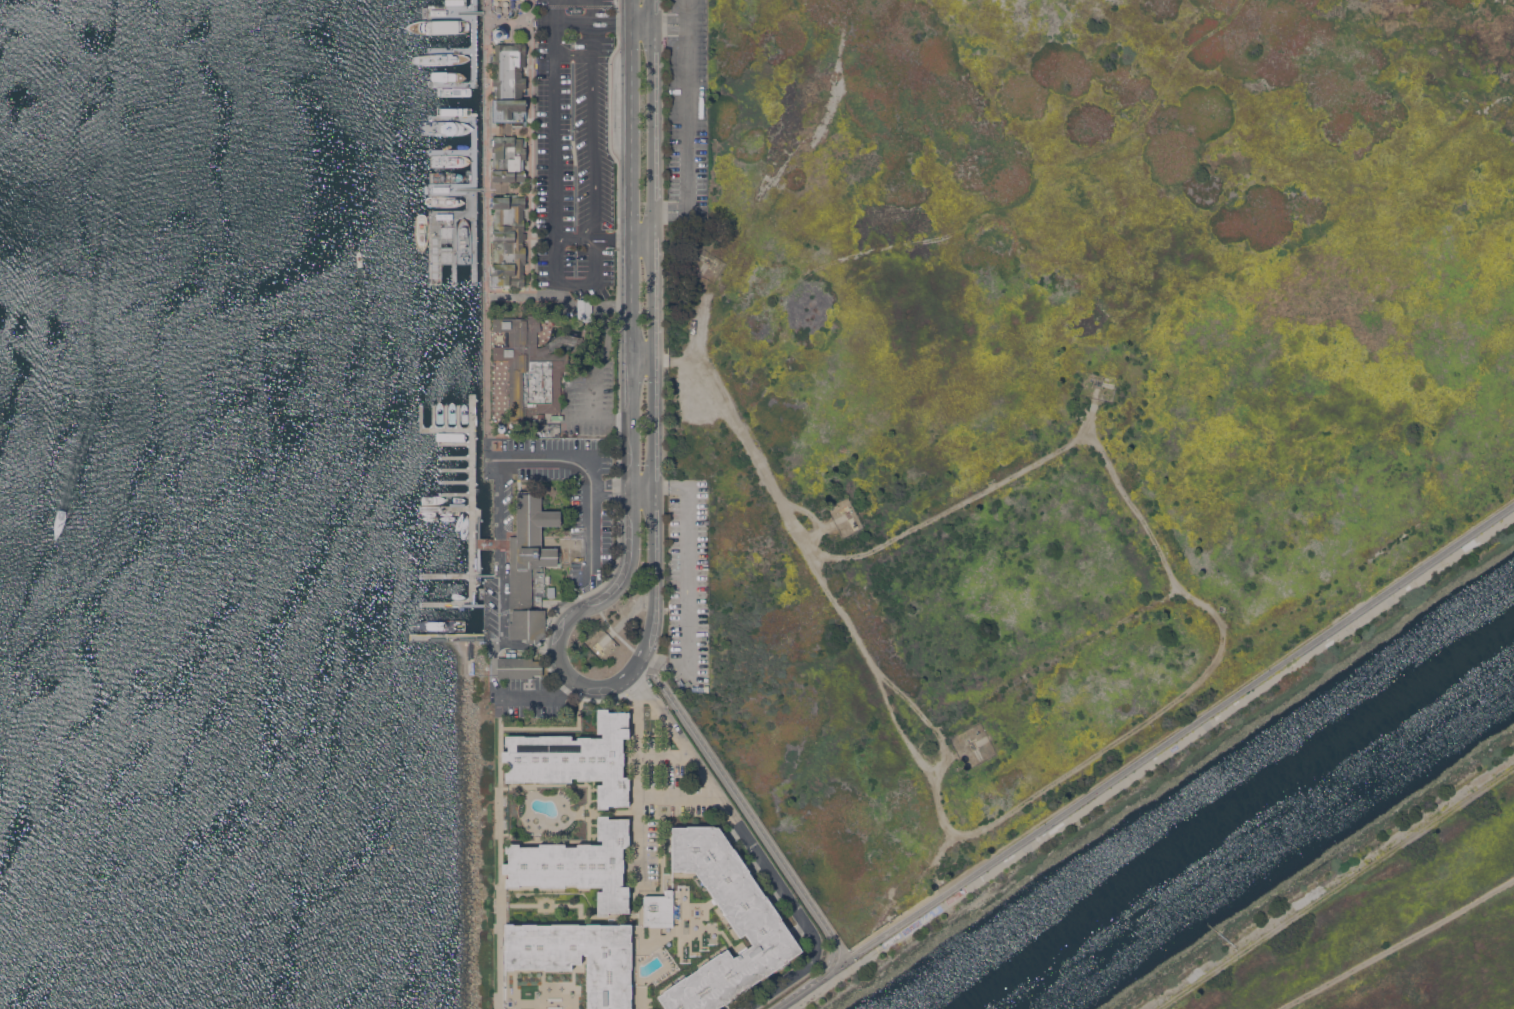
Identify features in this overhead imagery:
pier: (474, 2)
road: (531, 4)
pier: (451, 11)
road: (591, 11)
road: (631, 11)
road: (653, 11)
road: (686, 11)
road: (470, 12)
road: (535, 18)
road: (572, 21)
road: (611, 22)
road: (642, 22)
road: (669, 23)
road: (492, 33)
building: (497, 33)
road: (591, 38)
road: (507, 42)
pier: (450, 50)
road: (573, 54)
pier: (473, 74)
building: (509, 82)
road: (631, 86)
parking lot: (687, 107)
road: (652, 116)
pier: (473, 127)
road: (686, 130)
road: (530, 133)
road: (555, 140)
road: (592, 147)
parking lot: (574, 148)
pier: (450, 152)
building: (507, 158)
road: (529, 160)
road: (491, 169)
road: (470, 189)
road: (631, 195)
road: (521, 196)
road: (618, 207)
road: (988, 211)
road: (486, 224)
road: (652, 224)
pier: (446, 229)
road: (577, 239)
building: (508, 240)
road: (614, 240)
road: (642, 240)
pier: (473, 251)
road: (597, 260)
road: (631, 273)
road: (577, 281)
road: (598, 286)
road: (511, 293)
road: (558, 293)
road: (612, 307)
road: (565, 326)
building: (537, 361)
road: (598, 362)
parking lot: (587, 386)
road: (1091, 412)
pier: (456, 416)
pier: (432, 417)
pier: (444, 417)
road: (597, 418)
pier: (433, 430)
pier: (453, 443)
road: (653, 448)
pier: (453, 457)
pier: (453, 469)
road: (500, 469)
pier: (453, 481)
road: (621, 489)
pier: (453, 493)
road: (632, 495)
pier: (470, 499)
pier: (444, 508)
parking lot: (589, 515)
road: (810, 515)
road: (476, 525)
road: (811, 535)
pier: (476, 541)
pier: (483, 543)
road: (565, 544)
road: (476, 560)
road: (559, 562)
building: (527, 565)
road: (485, 574)
pier: (444, 575)
building: (537, 579)
road: (686, 579)
parking lot: (689, 583)
building: (548, 592)
road: (587, 592)
pier: (459, 600)
pier: (443, 604)
road: (470, 604)
parking lot: (489, 605)
road: (559, 605)
road: (551, 610)
road: (495, 612)
road: (625, 617)
road: (616, 633)
pier: (446, 636)
building: (437, 637)
building: (467, 638)
building: (480, 638)
road: (474, 647)
building: (507, 654)
building: (512, 654)
road: (467, 659)
building: (470, 661)
road: (492, 664)
building: (516, 667)
road: (638, 680)
road: (596, 685)
parking lot: (522, 687)
road: (536, 694)
parking lot: (528, 706)
road: (923, 716)
road: (561, 728)
road: (1171, 741)
road: (1100, 750)
road: (665, 756)
building: (576, 758)
road: (547, 785)
road: (637, 786)
road: (678, 797)
parking lot: (660, 800)
road: (747, 811)
road: (614, 812)
road: (591, 814)
road: (541, 841)
road: (754, 848)
road: (501, 863)
building: (578, 864)
road: (1336, 888)
road: (576, 904)
building: (658, 910)
road: (640, 914)
building: (755, 919)
road: (1398, 945)
building: (577, 956)
road: (800, 990)

